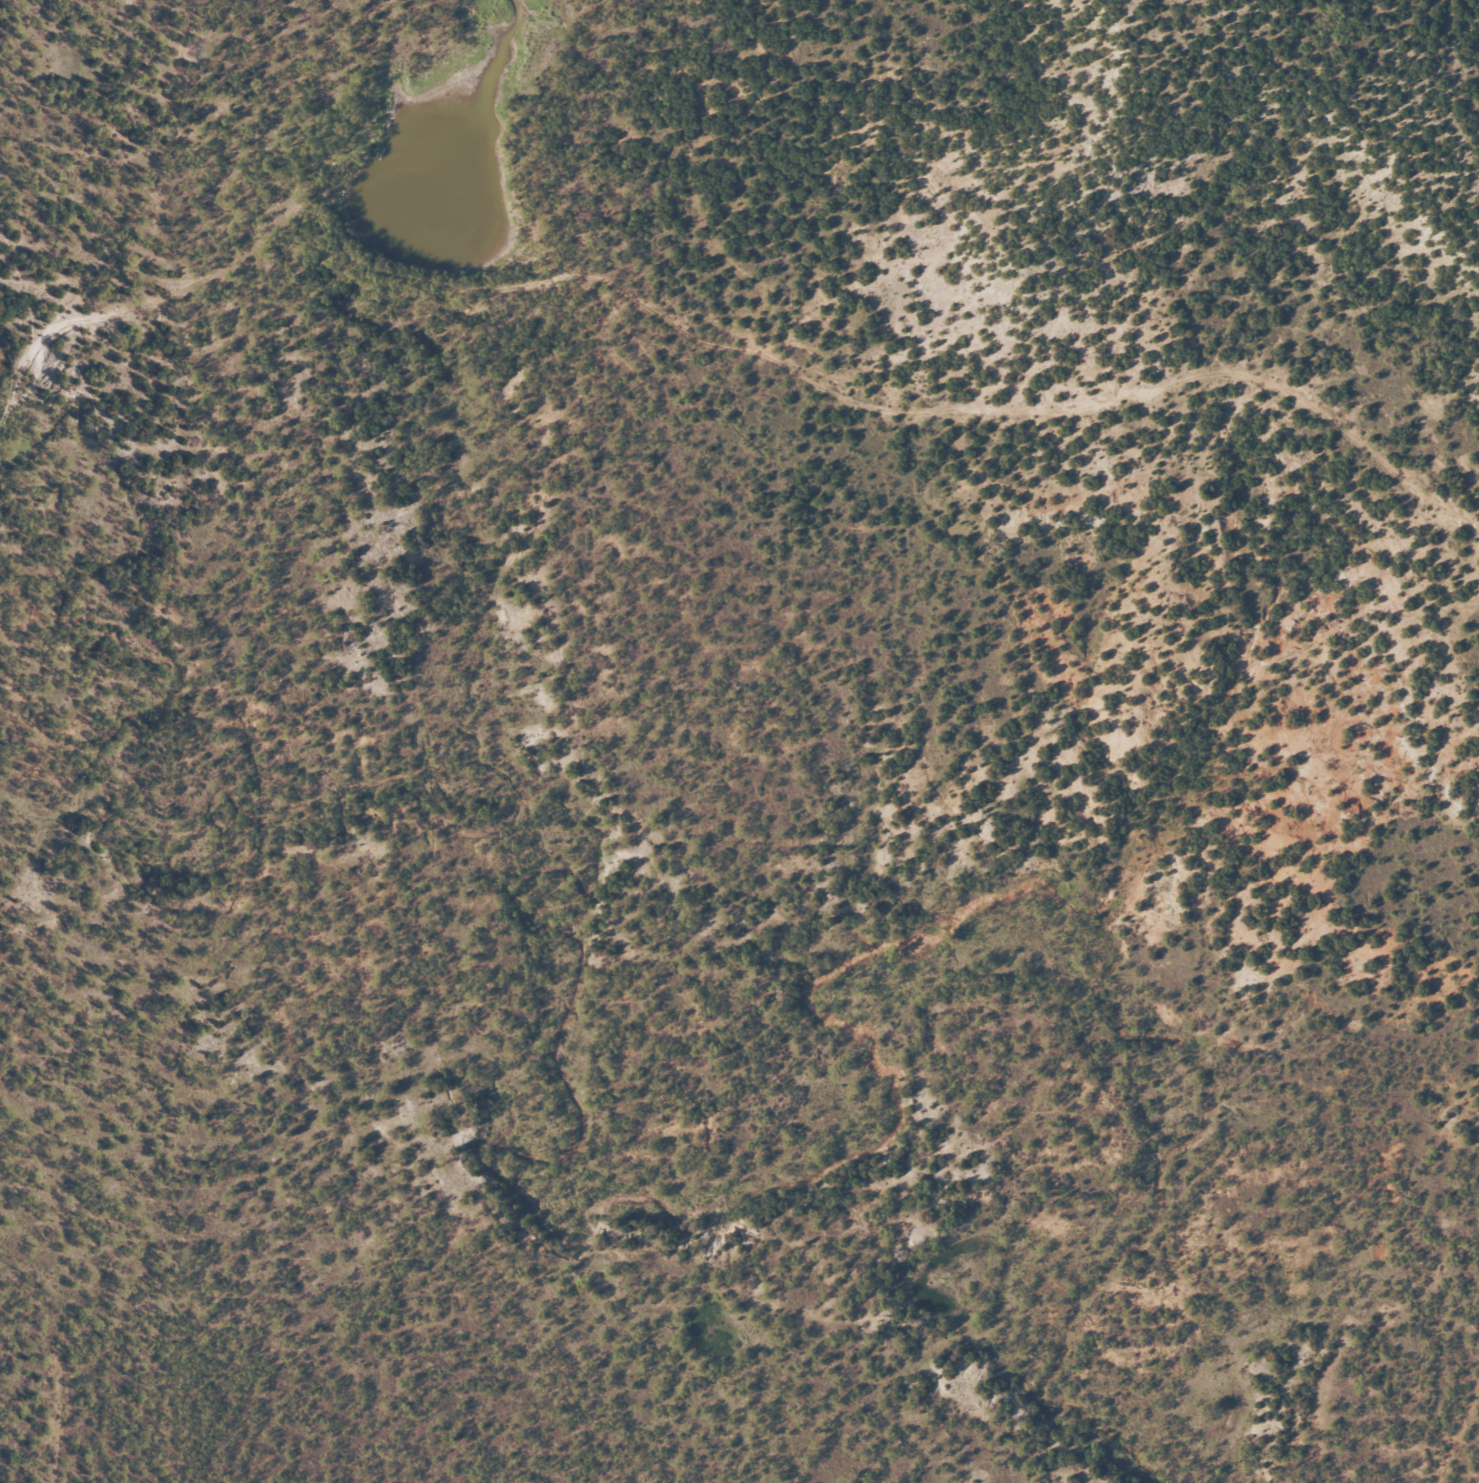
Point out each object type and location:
road: (644, 313)
road: (82, 1276)

